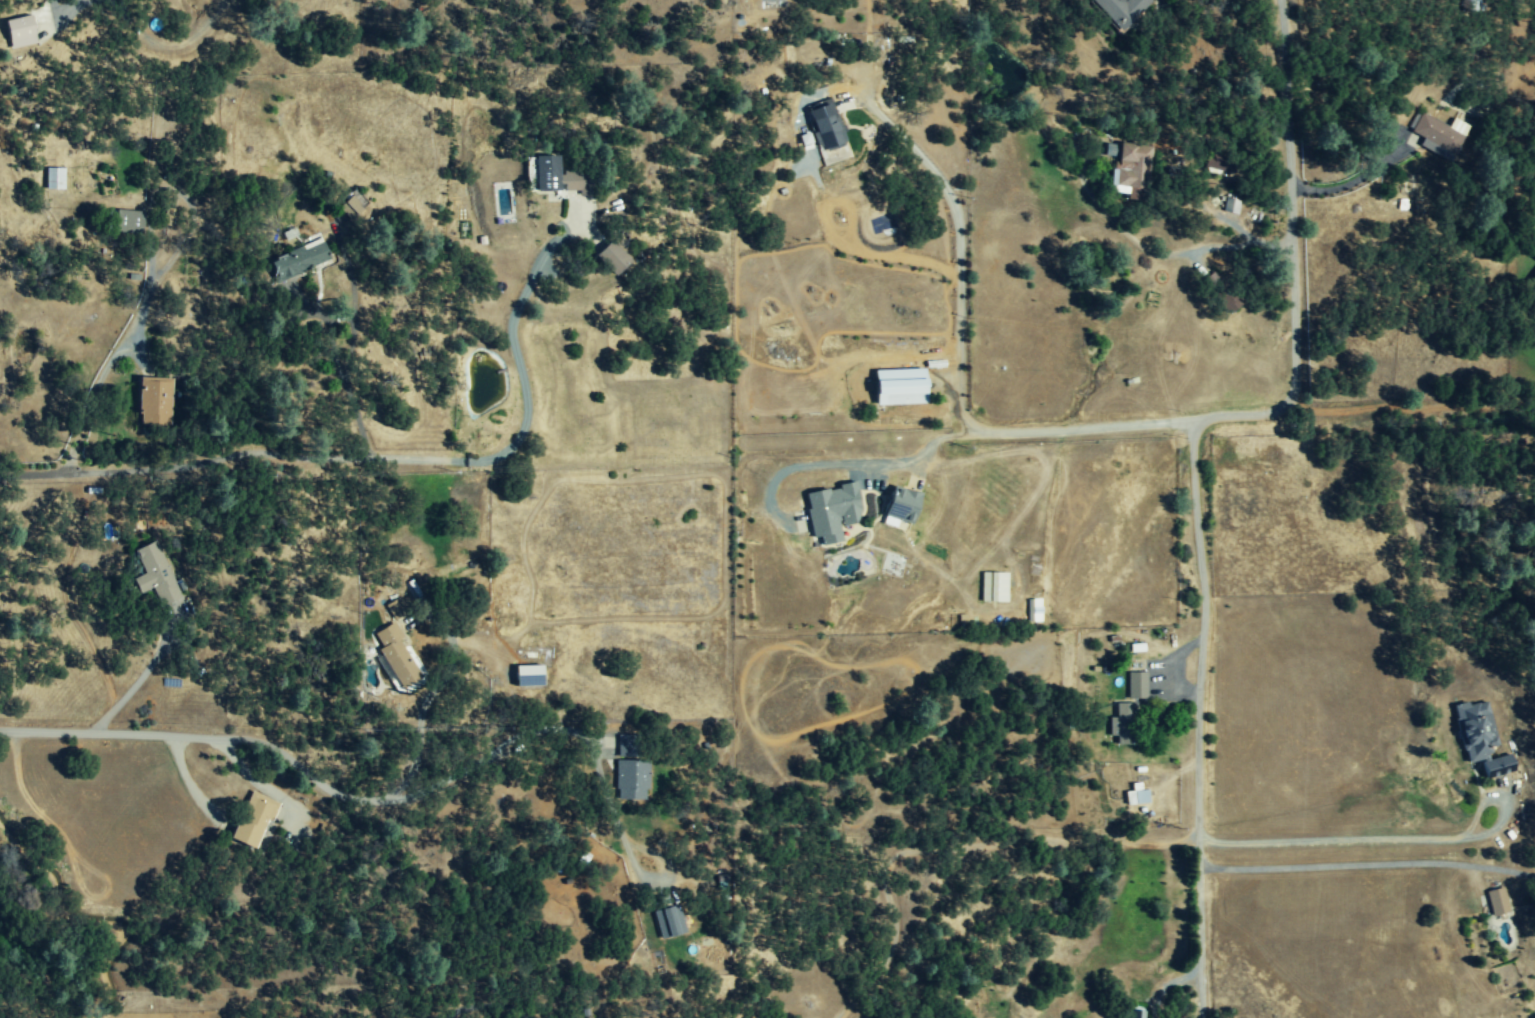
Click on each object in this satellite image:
road: (69, 4)
building: (1118, 10)
building: (21, 31)
building: (826, 128)
building: (1439, 135)
building: (1217, 165)
building: (1130, 168)
building: (560, 177)
building: (54, 178)
road: (1287, 206)
building: (350, 207)
building: (129, 220)
building: (613, 258)
building: (299, 259)
road: (148, 276)
road: (515, 354)
road: (954, 363)
road: (343, 385)
building: (902, 386)
building: (155, 400)
road: (231, 454)
road: (843, 463)
building: (902, 506)
building: (833, 512)
building: (153, 573)
building: (993, 587)
building: (411, 590)
building: (396, 609)
building: (1033, 610)
road: (160, 645)
building: (395, 655)
road: (1193, 667)
building: (530, 675)
building: (1136, 685)
road: (423, 708)
building: (1123, 724)
road: (213, 731)
building: (1482, 739)
road: (502, 743)
building: (627, 746)
building: (631, 779)
building: (1137, 796)
building: (254, 819)
road: (1331, 838)
road: (953, 847)
road: (1351, 865)
building: (1497, 902)
building: (670, 922)
road: (483, 1006)
building: (1137, 1014)

